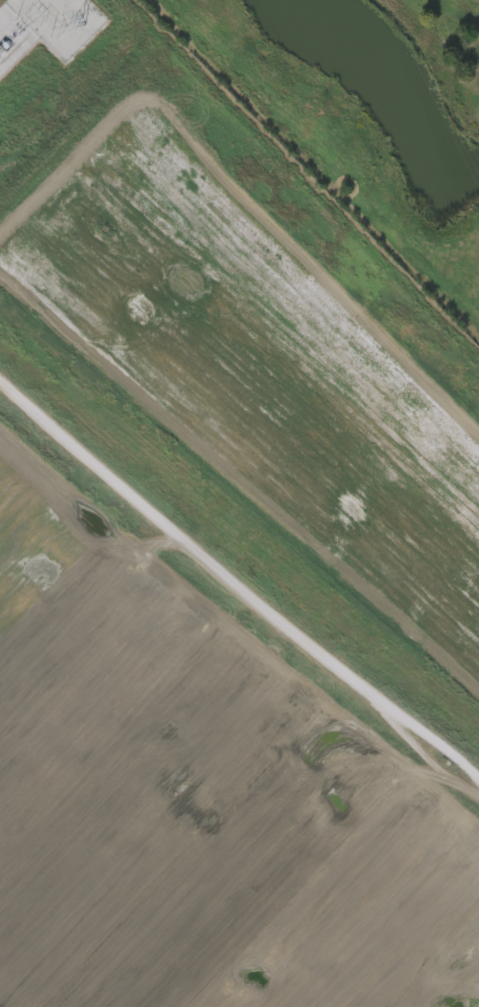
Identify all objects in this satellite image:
wastewater plant: (239, 503)
road: (238, 589)

